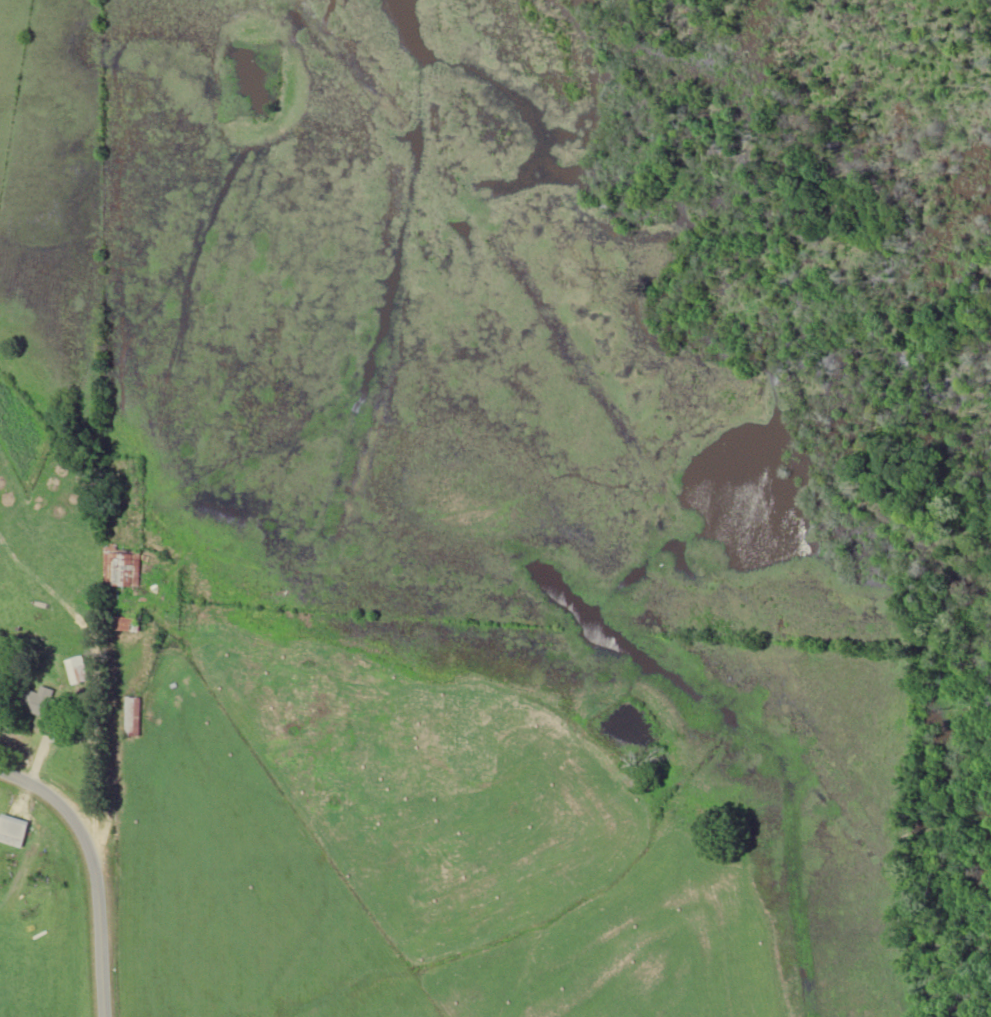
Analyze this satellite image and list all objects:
building: (120, 567)
building: (125, 623)
building: (75, 670)
building: (37, 704)
building: (132, 717)
building: (12, 830)
road: (95, 872)

